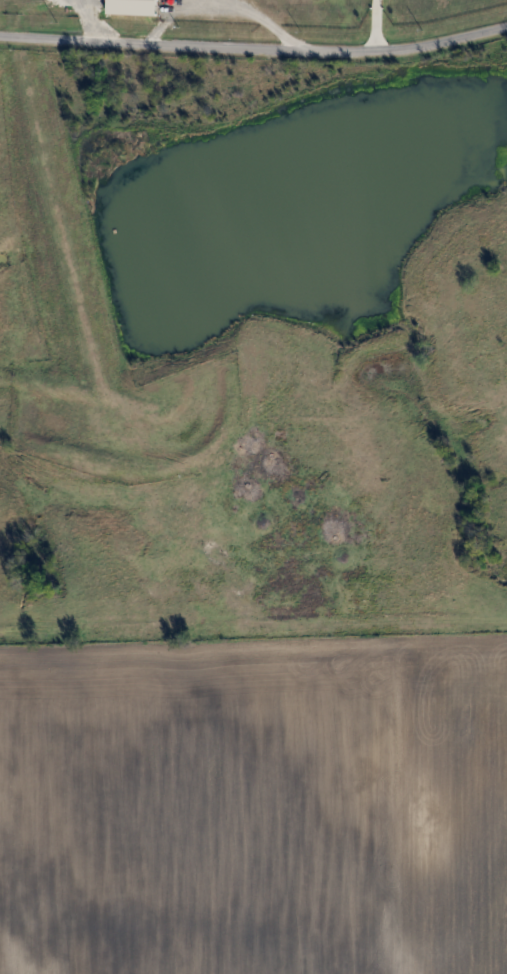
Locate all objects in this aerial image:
road: (376, 24)
road: (254, 48)

